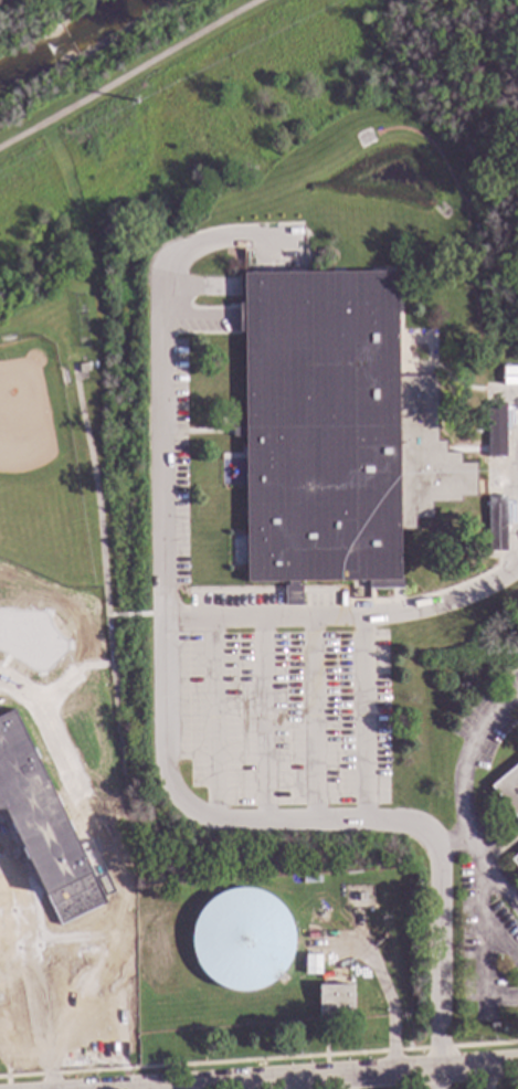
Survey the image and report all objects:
road: (130, 74)
power tower: (136, 102)
park: (165, 109)
road: (87, 265)
building: (82, 369)
building: (331, 432)
road: (165, 443)
park: (38, 462)
road: (504, 467)
road: (511, 559)
building: (292, 595)
road: (136, 615)
road: (361, 719)
road: (118, 729)
road: (168, 778)
building: (508, 791)
road: (459, 800)
road: (453, 842)
building: (515, 861)
building: (360, 898)
building: (352, 899)
road: (476, 926)
road: (73, 937)
building: (240, 939)
storage tank: (240, 939)
building: (310, 965)
road: (35, 969)
building: (15, 980)
building: (334, 1003)
road: (373, 1078)

